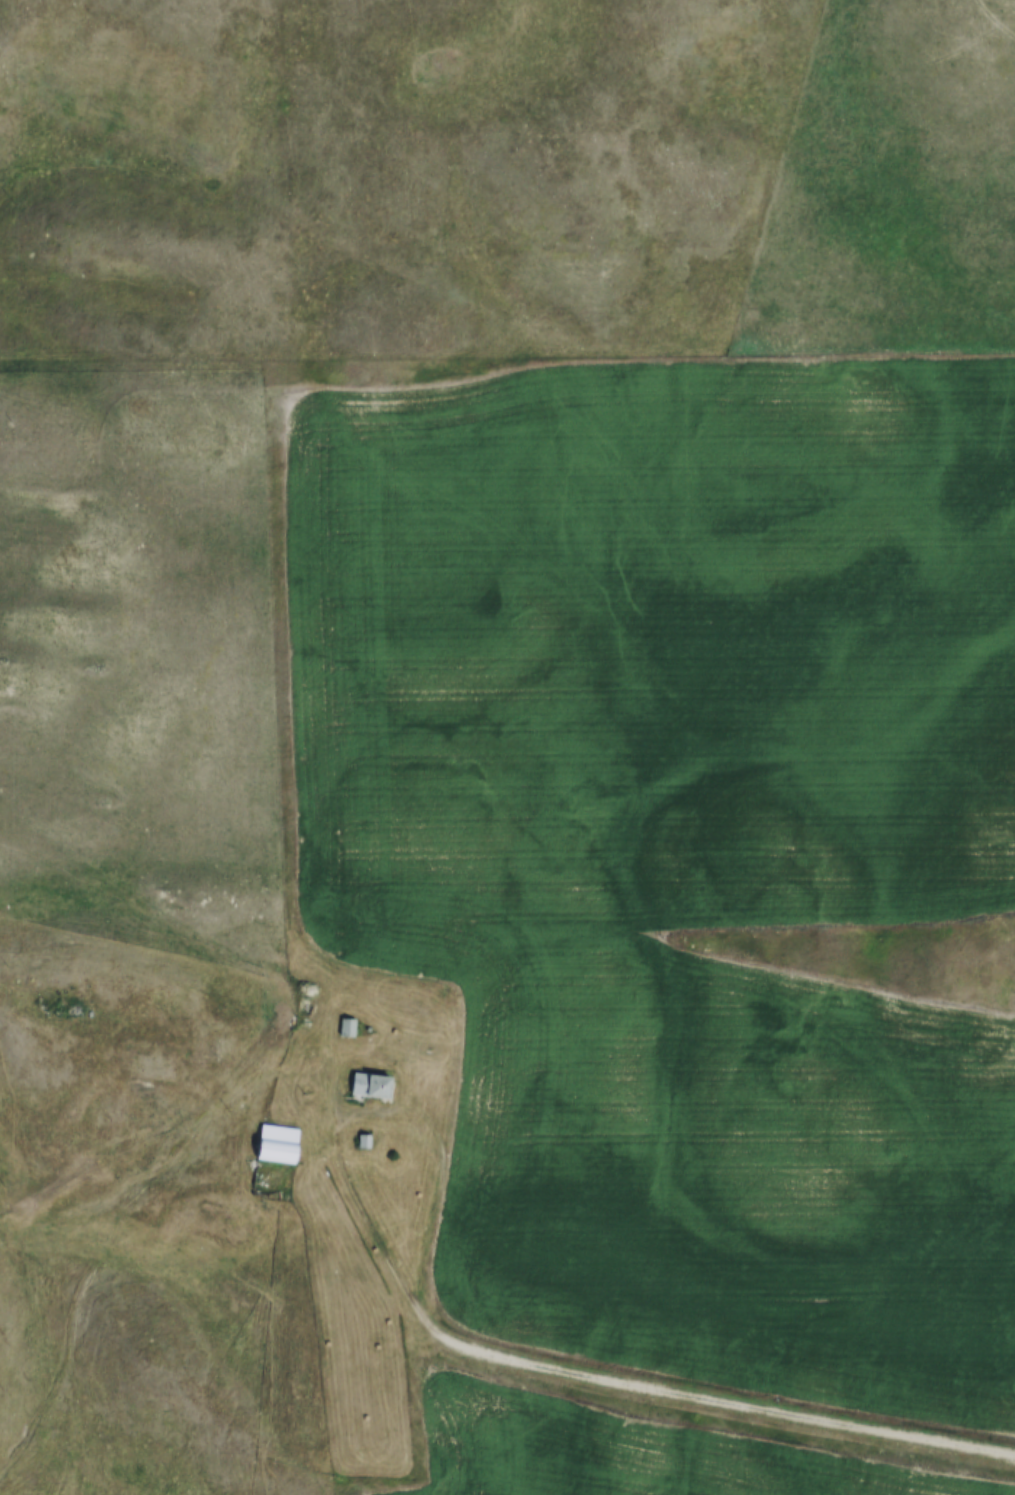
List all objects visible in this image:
building: (348, 1025)
building: (372, 1087)
road: (382, 1111)
building: (279, 1145)
road: (706, 1391)

